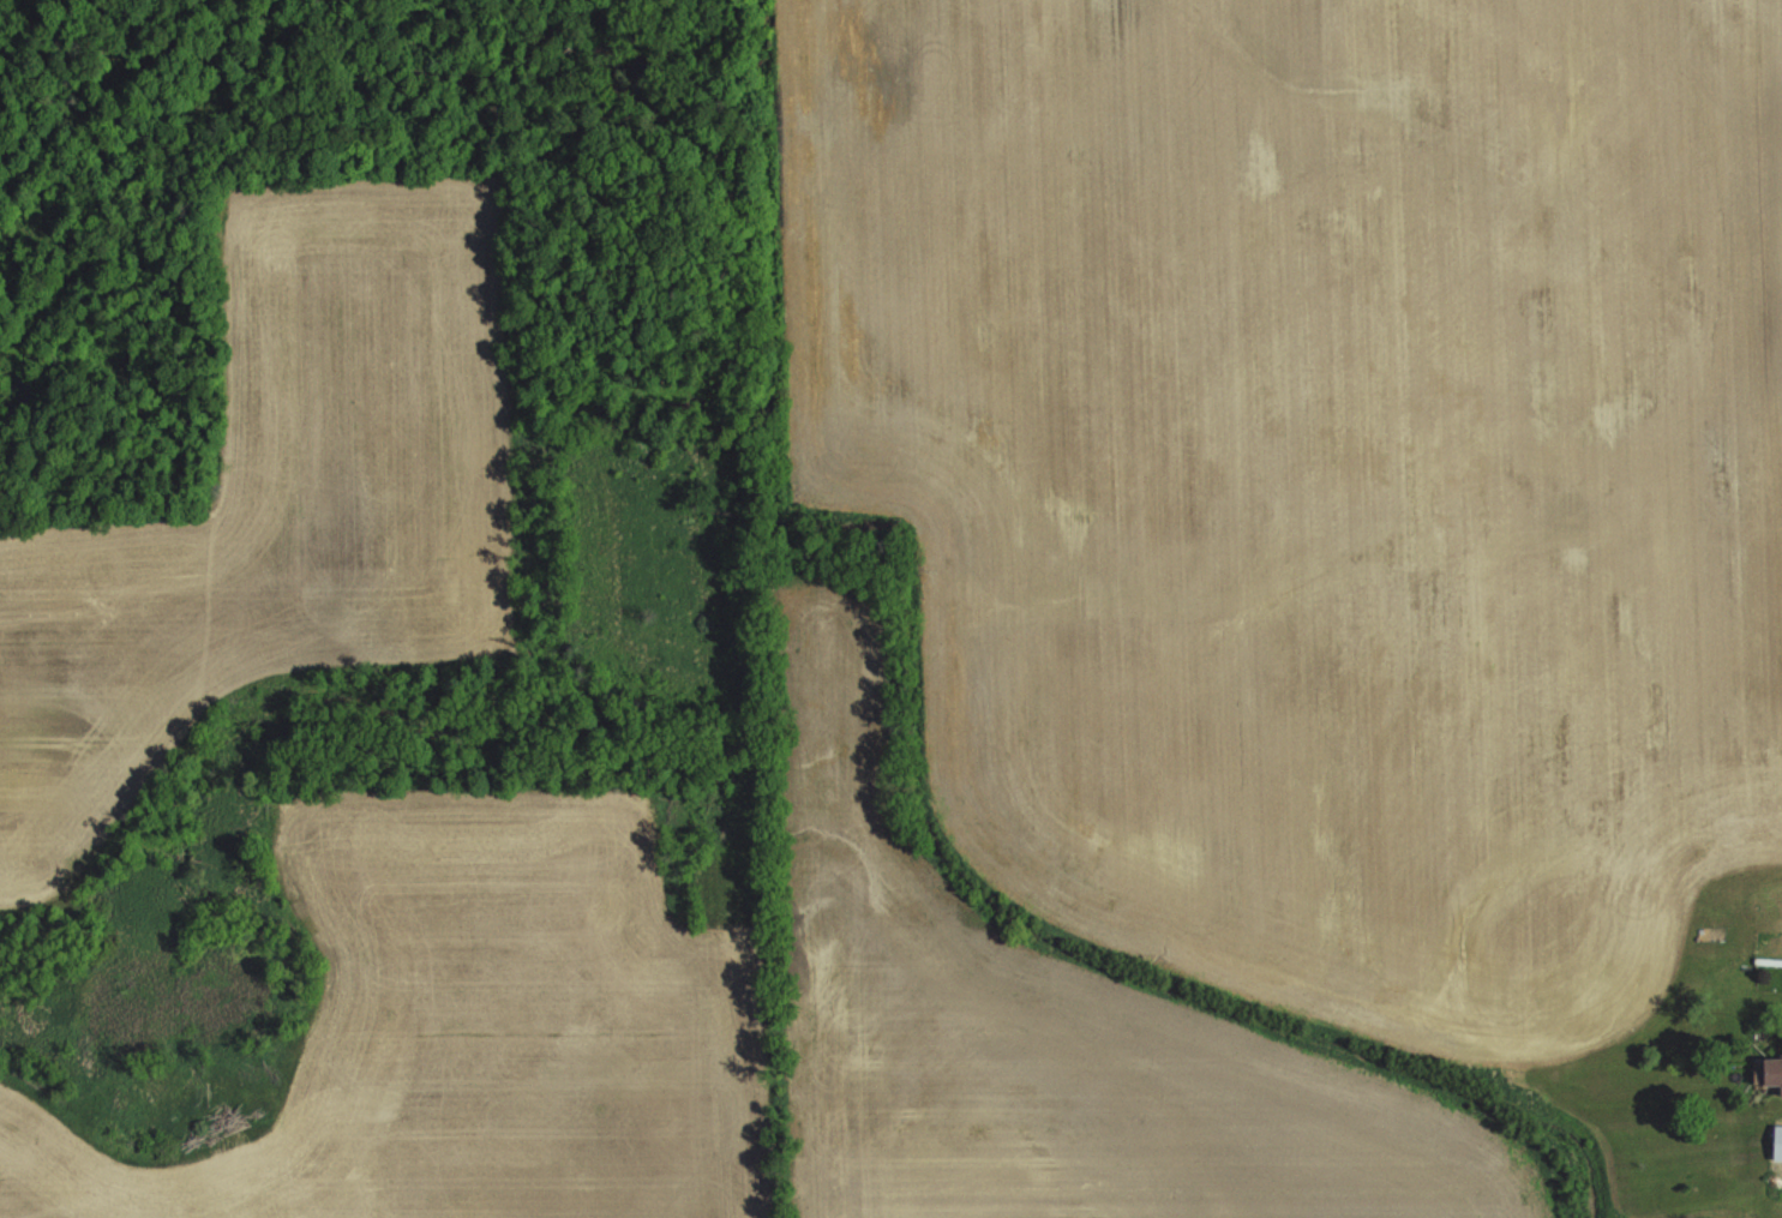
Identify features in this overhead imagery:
building: (1769, 1073)

